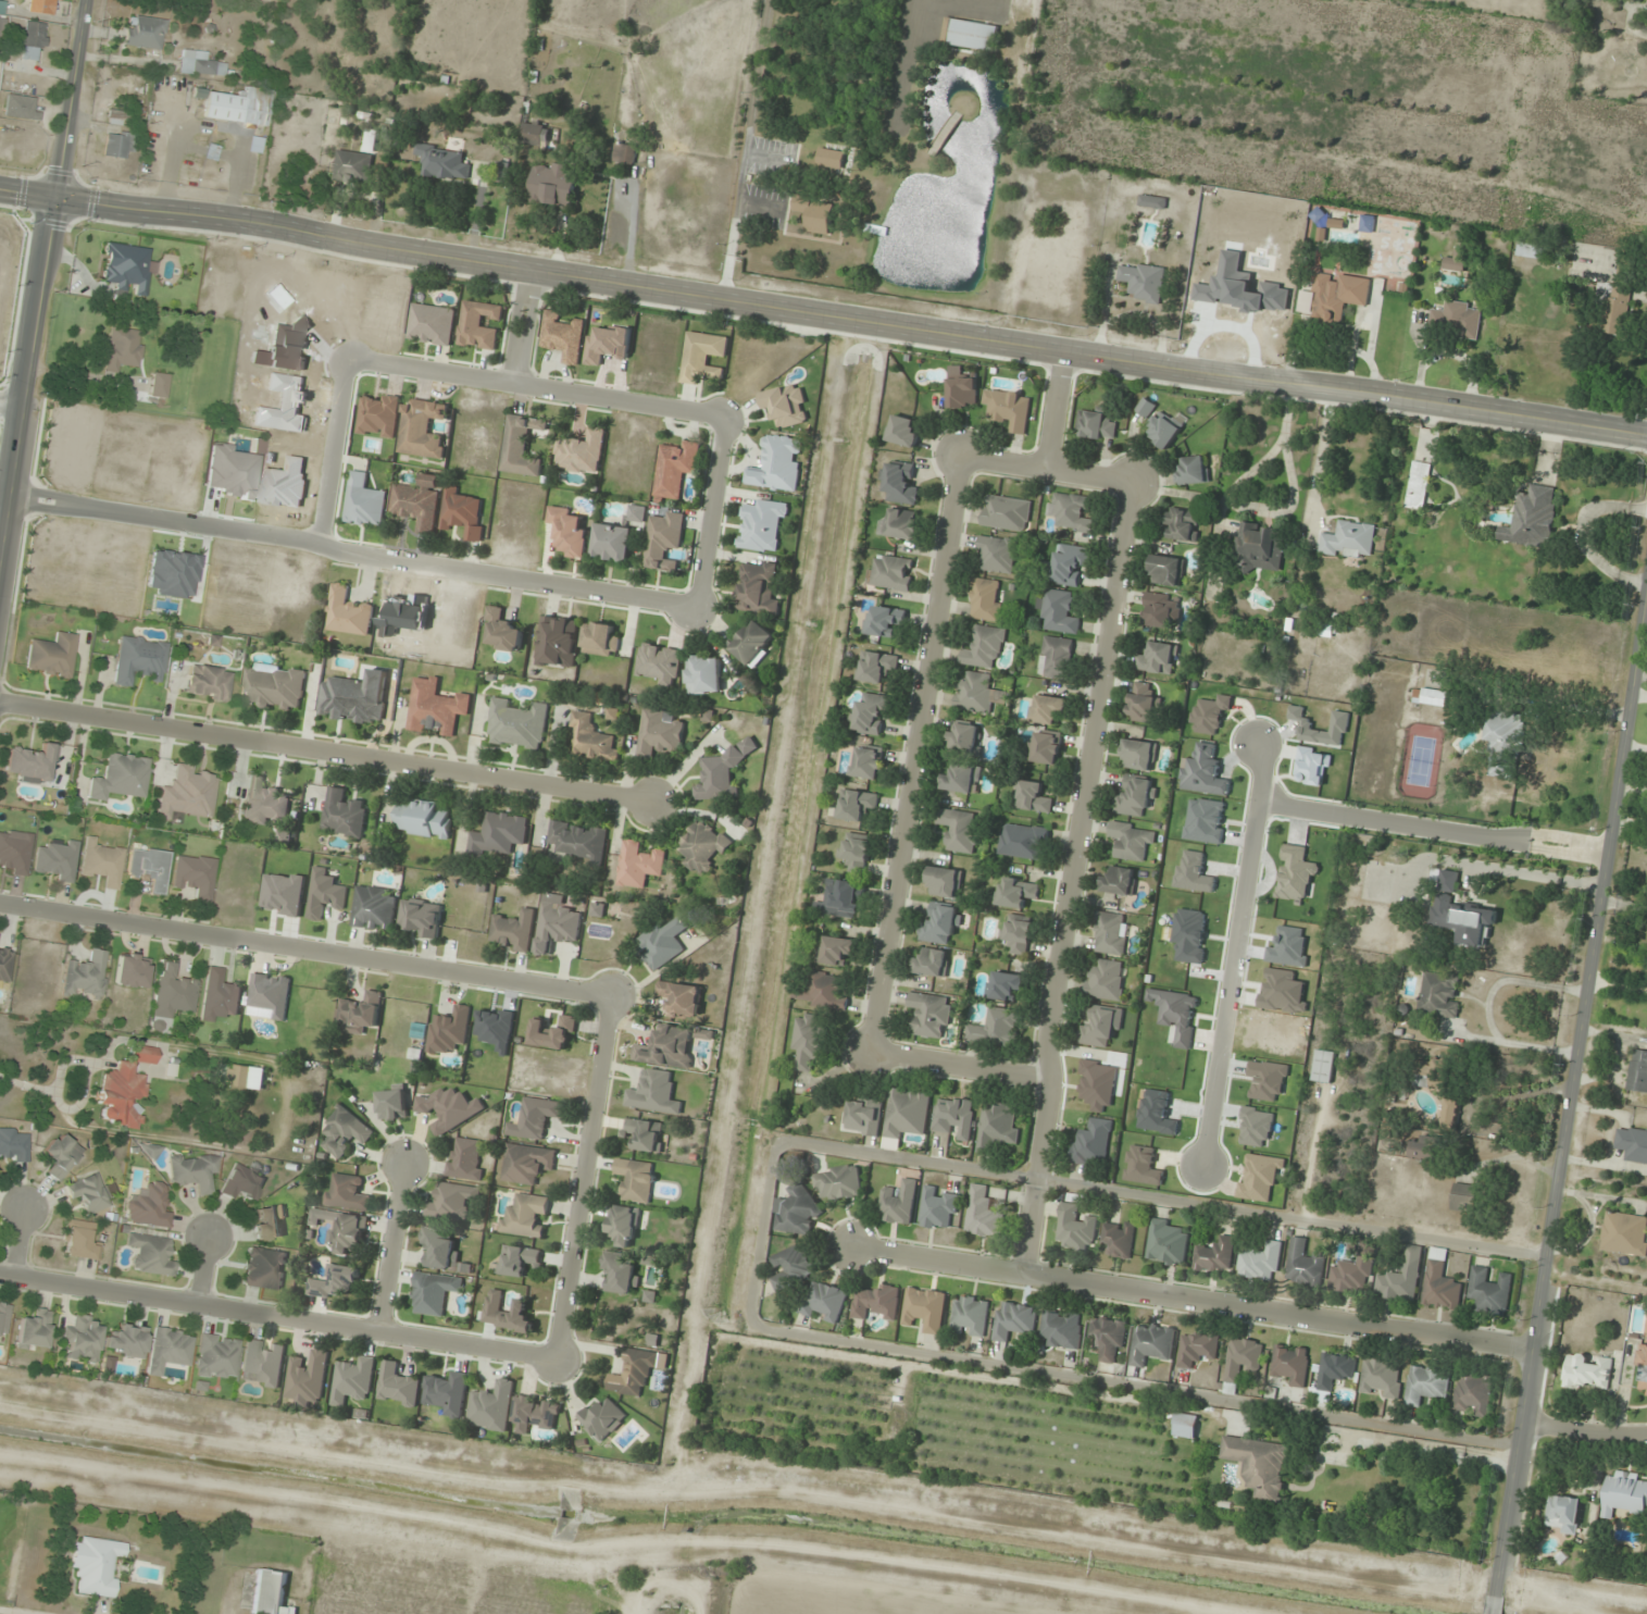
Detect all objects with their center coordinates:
building: (0, 7)
building: (40, 7)
building: (1, 26)
building: (144, 32)
building: (970, 35)
building: (33, 40)
building: (198, 63)
building: (237, 105)
building: (18, 107)
building: (116, 117)
building: (534, 133)
building: (118, 144)
road: (744, 148)
building: (625, 153)
road: (768, 158)
building: (832, 158)
building: (444, 162)
building: (357, 163)
building: (502, 172)
building: (1349, 183)
building: (553, 185)
traffic signals: (62, 200)
building: (1152, 201)
road: (760, 206)
building: (816, 214)
building: (1530, 250)
building: (1455, 262)
building: (126, 268)
building: (1143, 282)
building: (1339, 298)
road: (46, 302)
building: (1617, 309)
road: (823, 312)
building: (1456, 321)
building: (432, 324)
building: (478, 325)
road: (525, 327)
building: (563, 336)
building: (123, 348)
building: (703, 357)
building: (159, 385)
road: (544, 387)
building: (963, 393)
road: (15, 405)
road: (1057, 408)
building: (1146, 408)
building: (1009, 409)
building: (1096, 424)
building: (423, 429)
building: (1164, 430)
building: (904, 431)
building: (522, 445)
building: (581, 452)
building: (778, 464)
road: (1049, 468)
building: (676, 469)
building: (1194, 471)
building: (900, 485)
building: (1419, 485)
building: (363, 502)
building: (417, 502)
road: (710, 511)
building: (1070, 512)
building: (462, 513)
building: (636, 513)
building: (1007, 513)
building: (1533, 518)
road: (169, 521)
building: (901, 524)
building: (1183, 524)
building: (762, 526)
building: (570, 532)
building: (664, 541)
building: (1349, 541)
building: (612, 543)
building: (1260, 547)
building: (998, 554)
road: (407, 562)
building: (1070, 563)
building: (1166, 570)
building: (891, 572)
building: (758, 588)
building: (986, 599)
building: (1161, 610)
building: (347, 612)
building: (1059, 612)
building: (884, 620)
building: (501, 632)
building: (600, 640)
building: (557, 642)
building: (753, 643)
building: (985, 647)
building: (51, 655)
building: (1057, 657)
building: (138, 659)
building: (1157, 659)
building: (877, 667)
building: (703, 675)
building: (207, 682)
building: (274, 687)
building: (978, 694)
building: (1432, 696)
building: (354, 697)
building: (1144, 704)
building: (436, 707)
building: (1048, 709)
building: (872, 712)
building: (516, 724)
building: (659, 732)
building: (965, 738)
building: (591, 740)
building: (1502, 744)
building: (1045, 747)
road: (328, 753)
road: (918, 755)
building: (1138, 755)
building: (30, 762)
building: (868, 762)
building: (720, 774)
building: (118, 775)
building: (962, 779)
building: (186, 793)
building: (1136, 796)
building: (1033, 797)
building: (264, 803)
building: (857, 805)
building: (344, 814)
building: (424, 820)
road: (1433, 827)
building: (960, 830)
building: (498, 834)
building: (581, 840)
building: (1023, 841)
building: (1132, 841)
building: (703, 847)
building: (857, 853)
building: (101, 862)
building: (638, 865)
building: (149, 867)
building: (194, 874)
road: (1073, 878)
building: (1119, 880)
building: (945, 882)
building: (1016, 892)
building: (283, 893)
building: (326, 894)
building: (841, 899)
building: (374, 908)
building: (421, 917)
building: (941, 924)
building: (558, 927)
building: (513, 931)
building: (1019, 933)
building: (1111, 933)
building: (660, 945)
road: (1596, 945)
road: (308, 948)
road: (1234, 948)
building: (836, 951)
building: (932, 961)
building: (4, 963)
building: (130, 970)
building: (85, 974)
building: (1107, 979)
building: (1007, 985)
building: (823, 991)
building: (1439, 994)
building: (170, 995)
building: (220, 995)
building: (269, 996)
building: (682, 998)
building: (360, 1013)
building: (932, 1015)
building: (1102, 1027)
building: (996, 1029)
building: (449, 1030)
building: (554, 1032)
building: (809, 1040)
building: (667, 1047)
building: (1324, 1066)
road: (963, 1067)
building: (1637, 1071)
building: (1433, 1073)
building: (242, 1076)
building: (125, 1088)
building: (654, 1092)
building: (394, 1102)
building: (452, 1108)
building: (1451, 1113)
building: (907, 1115)
building: (865, 1116)
building: (957, 1117)
building: (536, 1118)
building: (997, 1126)
building: (346, 1132)
building: (646, 1133)
building: (1093, 1143)
building: (1633, 1143)
building: (13, 1144)
building: (1424, 1149)
building: (60, 1155)
building: (465, 1158)
building: (527, 1163)
building: (192, 1171)
road: (587, 1177)
building: (636, 1180)
building: (244, 1182)
building: (838, 1182)
building: (89, 1192)
building: (347, 1192)
building: (1464, 1197)
building: (453, 1202)
building: (898, 1203)
building: (148, 1206)
building: (938, 1209)
building: (796, 1212)
building: (983, 1213)
building: (526, 1216)
building: (270, 1222)
building: (624, 1225)
building: (1075, 1228)
building: (344, 1229)
building: (1625, 1234)
building: (1119, 1239)
building: (80, 1241)
building: (1168, 1242)
road: (21, 1243)
road: (396, 1245)
building: (440, 1249)
building: (150, 1254)
building: (1216, 1255)
building: (521, 1259)
building: (1261, 1262)
building: (1305, 1265)
road: (205, 1267)
building: (793, 1267)
building: (264, 1268)
building: (621, 1271)
building: (1351, 1276)
building: (1402, 1277)
building: (335, 1281)
building: (1442, 1282)
building: (1490, 1291)
building: (434, 1293)
building: (824, 1301)
road: (1194, 1302)
building: (877, 1304)
building: (925, 1308)
building: (507, 1313)
road: (279, 1315)
building: (3, 1316)
building: (971, 1316)
building: (1014, 1320)
building: (1062, 1328)
building: (34, 1329)
building: (1646, 1329)
building: (83, 1337)
building: (1109, 1338)
building: (127, 1340)
building: (1152, 1342)
building: (1198, 1348)
building: (170, 1349)
building: (216, 1356)
building: (1243, 1360)
building: (263, 1363)
building: (1292, 1364)
building: (1336, 1369)
building: (1643, 1370)
building: (634, 1371)
building: (1588, 1371)
building: (307, 1378)
building: (1383, 1378)
building: (353, 1380)
building: (1427, 1385)
building: (399, 1386)
building: (449, 1393)
building: (1474, 1394)
building: (491, 1405)
building: (535, 1414)
building: (603, 1419)
building: (1186, 1425)
road: (1585, 1431)
road: (1520, 1450)
building: (1261, 1466)
building: (1624, 1493)
building: (1563, 1514)
building: (95, 1564)
building: (271, 1593)
road: (9, 1612)

